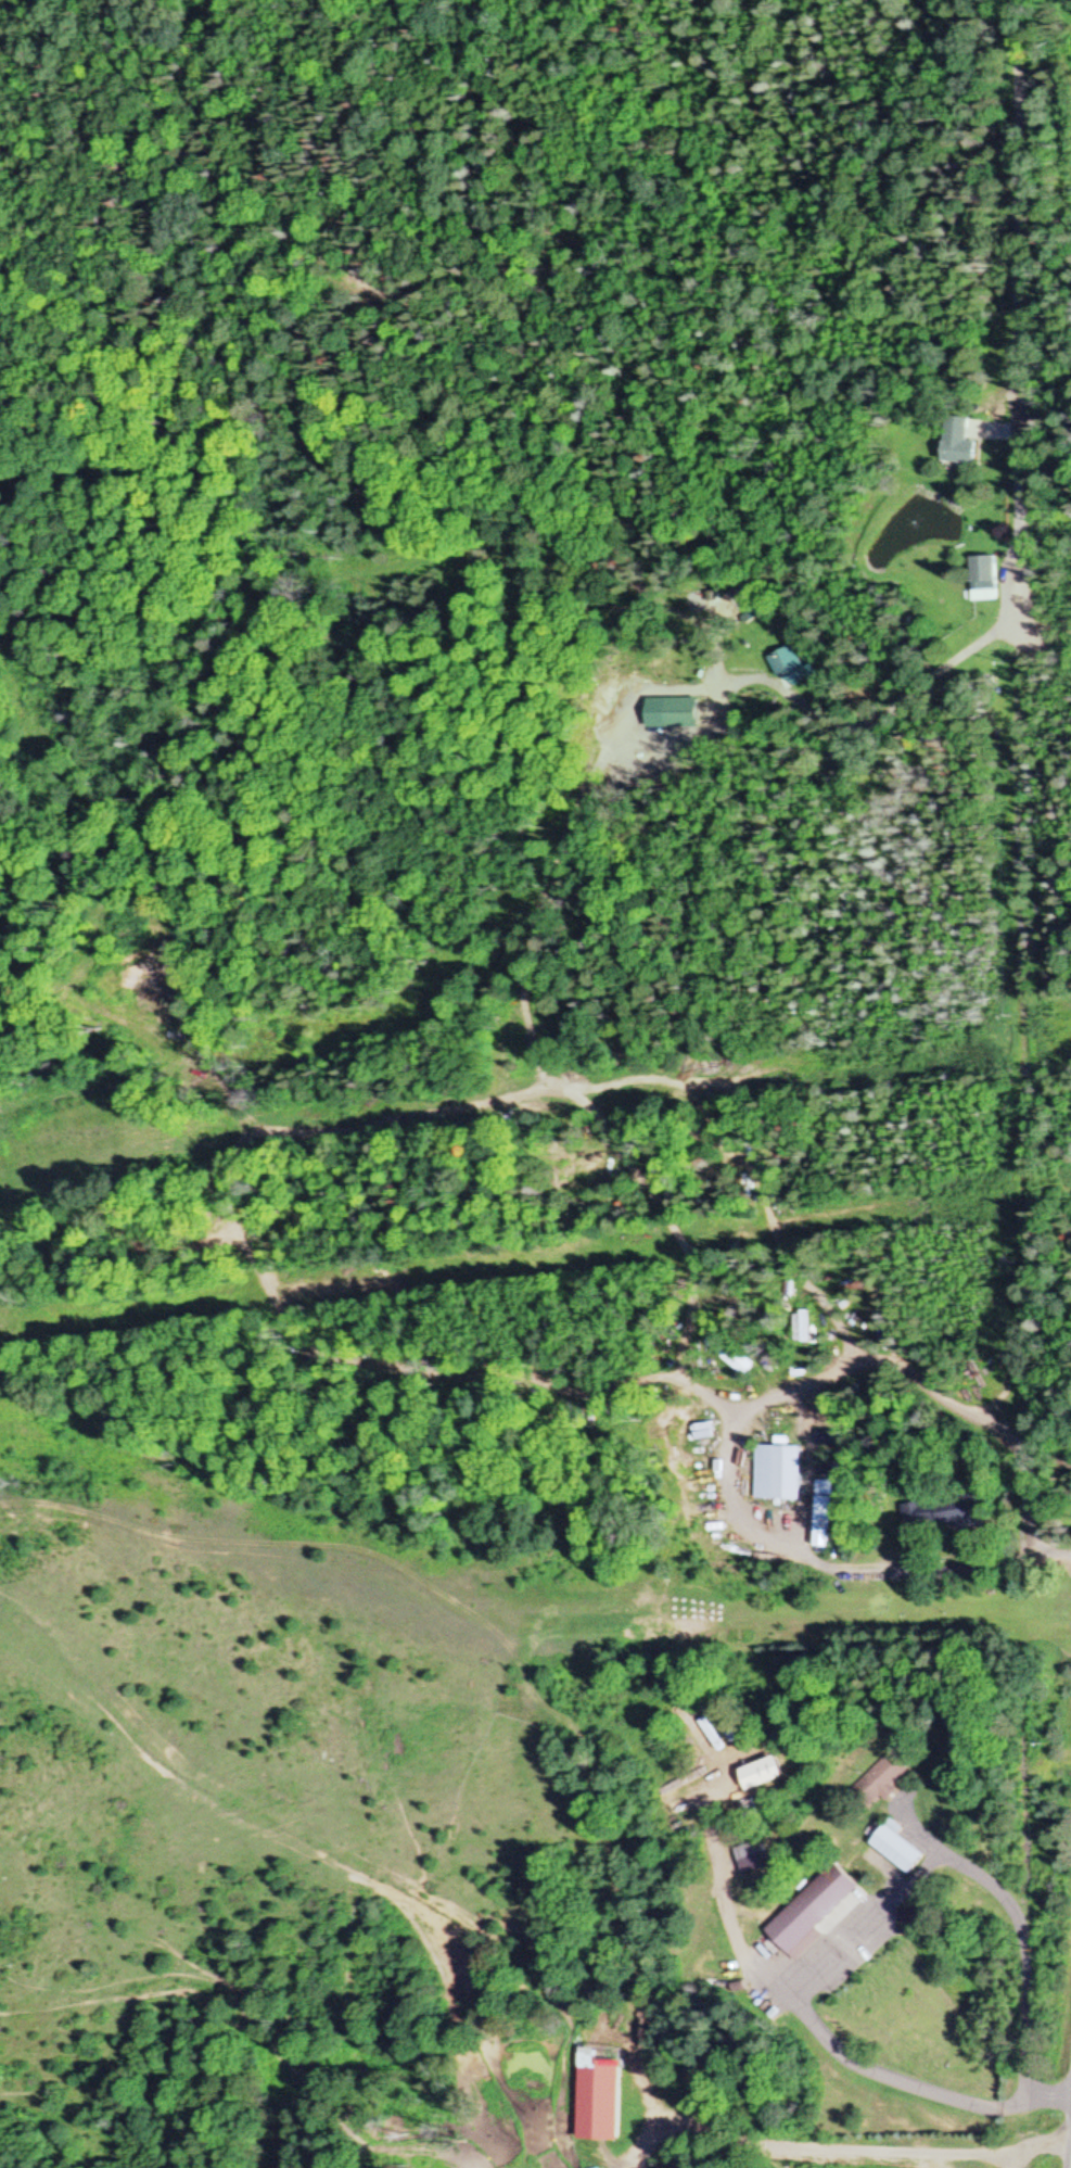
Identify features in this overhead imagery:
road: (1005, 62)
road: (1012, 375)
building: (957, 442)
building: (982, 578)
road: (945, 655)
building: (792, 665)
building: (800, 1326)
building: (728, 1354)
building: (774, 1473)
building: (818, 1513)
building: (940, 1513)
road: (778, 1547)
building: (881, 1779)
building: (891, 1854)
building: (750, 1855)
building: (815, 1913)
road: (1016, 1922)
road: (826, 2037)

